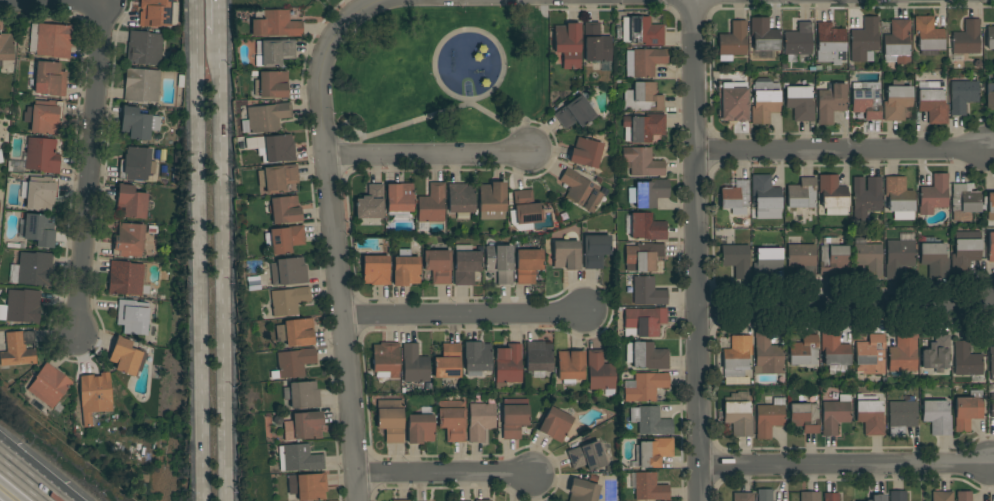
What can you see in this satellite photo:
road: (50, 1)
road: (361, 9)
building: (158, 13)
building: (275, 24)
road: (469, 30)
building: (641, 31)
building: (763, 35)
building: (928, 36)
building: (966, 38)
building: (990, 38)
building: (50, 40)
building: (732, 41)
building: (864, 41)
building: (797, 42)
building: (897, 42)
building: (595, 44)
building: (829, 44)
building: (568, 45)
building: (6, 47)
building: (144, 48)
building: (274, 52)
building: (643, 62)
park: (443, 74)
building: (50, 79)
building: (141, 85)
building: (271, 85)
building: (962, 96)
building: (989, 96)
building: (643, 97)
building: (866, 100)
building: (732, 101)
building: (896, 101)
building: (764, 102)
building: (799, 103)
building: (831, 103)
building: (933, 103)
building: (574, 113)
building: (46, 117)
building: (265, 118)
building: (138, 123)
road: (504, 123)
road: (395, 127)
building: (644, 127)
building: (273, 148)
road: (842, 152)
building: (585, 153)
building: (41, 155)
road: (428, 157)
building: (642, 162)
building: (135, 164)
road: (88, 168)
building: (279, 178)
building: (580, 190)
building: (832, 192)
building: (41, 193)
building: (648, 193)
building: (801, 193)
building: (933, 195)
building: (866, 197)
building: (460, 198)
building: (736, 198)
building: (766, 198)
building: (899, 198)
building: (399, 199)
building: (131, 201)
building: (492, 201)
building: (964, 202)
building: (370, 204)
building: (432, 204)
building: (990, 206)
building: (526, 208)
building: (285, 210)
building: (646, 227)
building: (37, 230)
building: (284, 239)
building: (128, 240)
building: (991, 247)
road: (200, 250)
road: (222, 250)
building: (595, 250)
road: (697, 250)
building: (566, 255)
building: (965, 255)
building: (832, 256)
building: (643, 257)
road: (335, 258)
building: (802, 258)
building: (898, 258)
building: (869, 259)
building: (737, 260)
building: (934, 260)
building: (499, 262)
building: (766, 263)
building: (466, 265)
building: (527, 265)
building: (438, 266)
building: (32, 269)
building: (405, 269)
building: (375, 270)
building: (288, 271)
building: (125, 278)
building: (647, 292)
building: (286, 301)
building: (23, 306)
road: (841, 309)
road: (464, 316)
building: (133, 317)
building: (643, 322)
building: (295, 332)
building: (16, 349)
building: (834, 350)
building: (804, 352)
building: (903, 354)
building: (936, 354)
building: (767, 355)
building: (871, 355)
building: (538, 356)
building: (649, 356)
building: (737, 356)
building: (127, 357)
building: (477, 357)
building: (385, 360)
building: (966, 360)
building: (448, 362)
building: (293, 363)
building: (992, 363)
building: (414, 364)
building: (507, 366)
building: (570, 366)
building: (600, 371)
building: (49, 385)
building: (644, 386)
building: (304, 395)
building: (94, 396)
building: (992, 406)
building: (968, 410)
building: (835, 414)
building: (870, 415)
building: (901, 416)
building: (513, 417)
building: (804, 417)
building: (937, 417)
building: (738, 418)
building: (769, 418)
building: (391, 419)
building: (452, 419)
building: (650, 420)
building: (480, 421)
building: (555, 424)
building: (304, 426)
building: (421, 426)
building: (652, 452)
building: (587, 456)
building: (301, 458)
road: (846, 466)
road: (13, 470)
road: (13, 473)
road: (444, 474)
building: (308, 486)
building: (649, 488)
building: (582, 491)
road: (36, 492)
building: (764, 495)
building: (810, 496)
building: (897, 496)
building: (942, 496)
building: (963, 496)
building: (743, 497)
building: (831, 497)
building: (879, 498)
building: (400, 500)
building: (482, 500)

